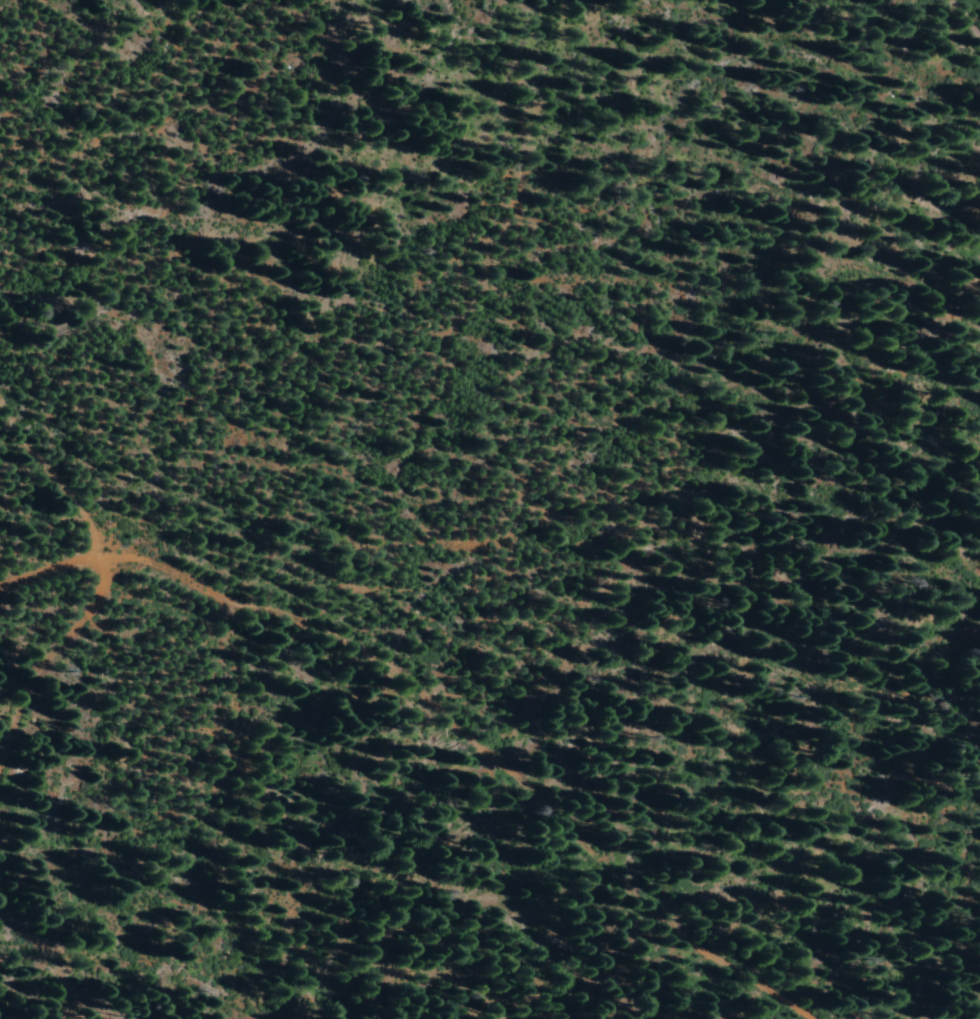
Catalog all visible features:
road: (970, 9)
road: (71, 465)
road: (448, 710)

